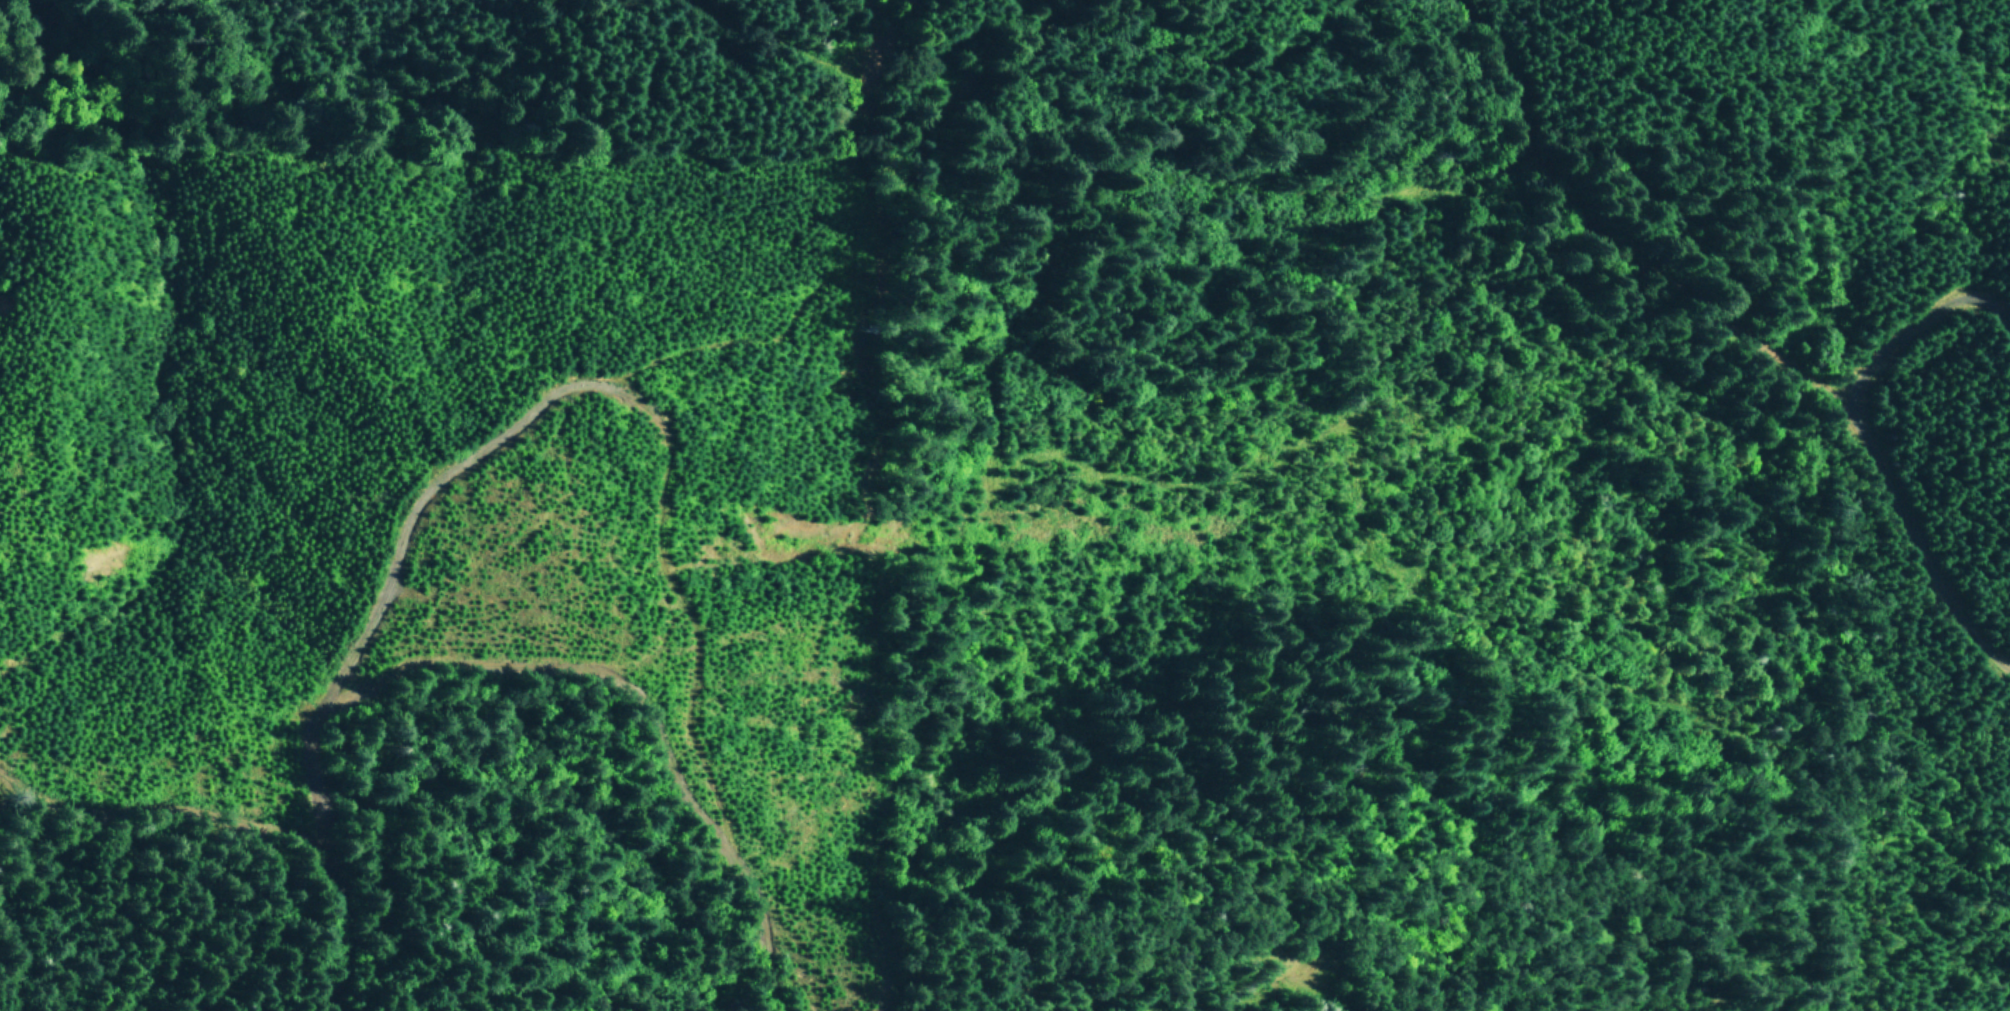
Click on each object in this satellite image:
road: (1054, 30)
road: (776, 39)
road: (1737, 329)
road: (611, 469)

